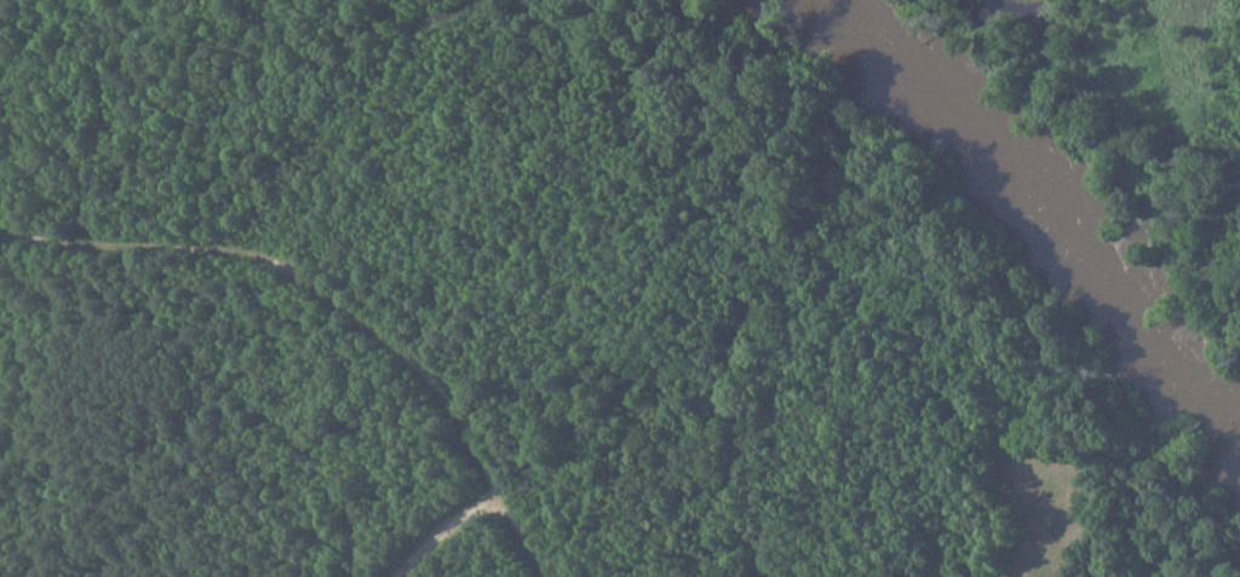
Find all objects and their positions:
river: (1045, 207)

